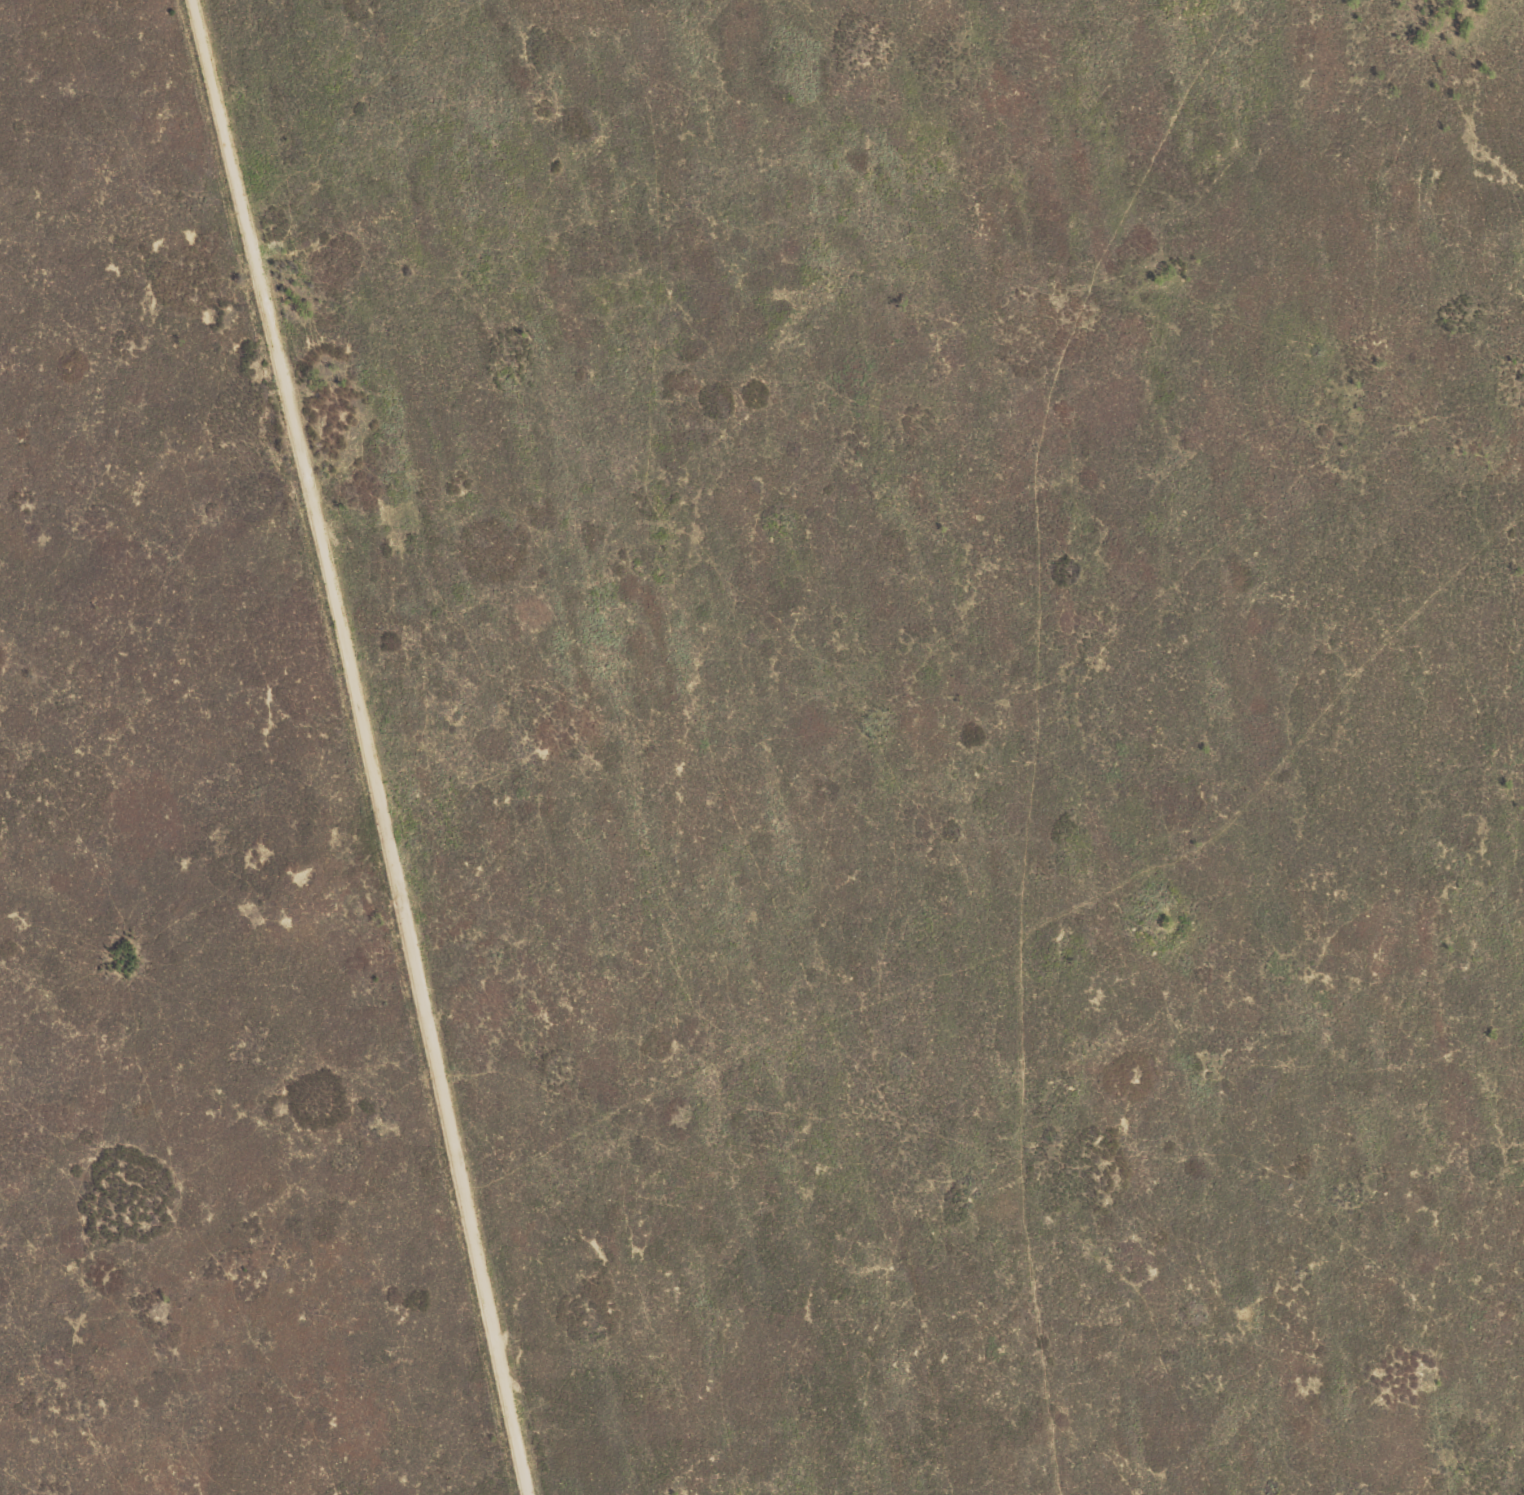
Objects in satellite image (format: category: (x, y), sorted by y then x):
road: (400, 747)

